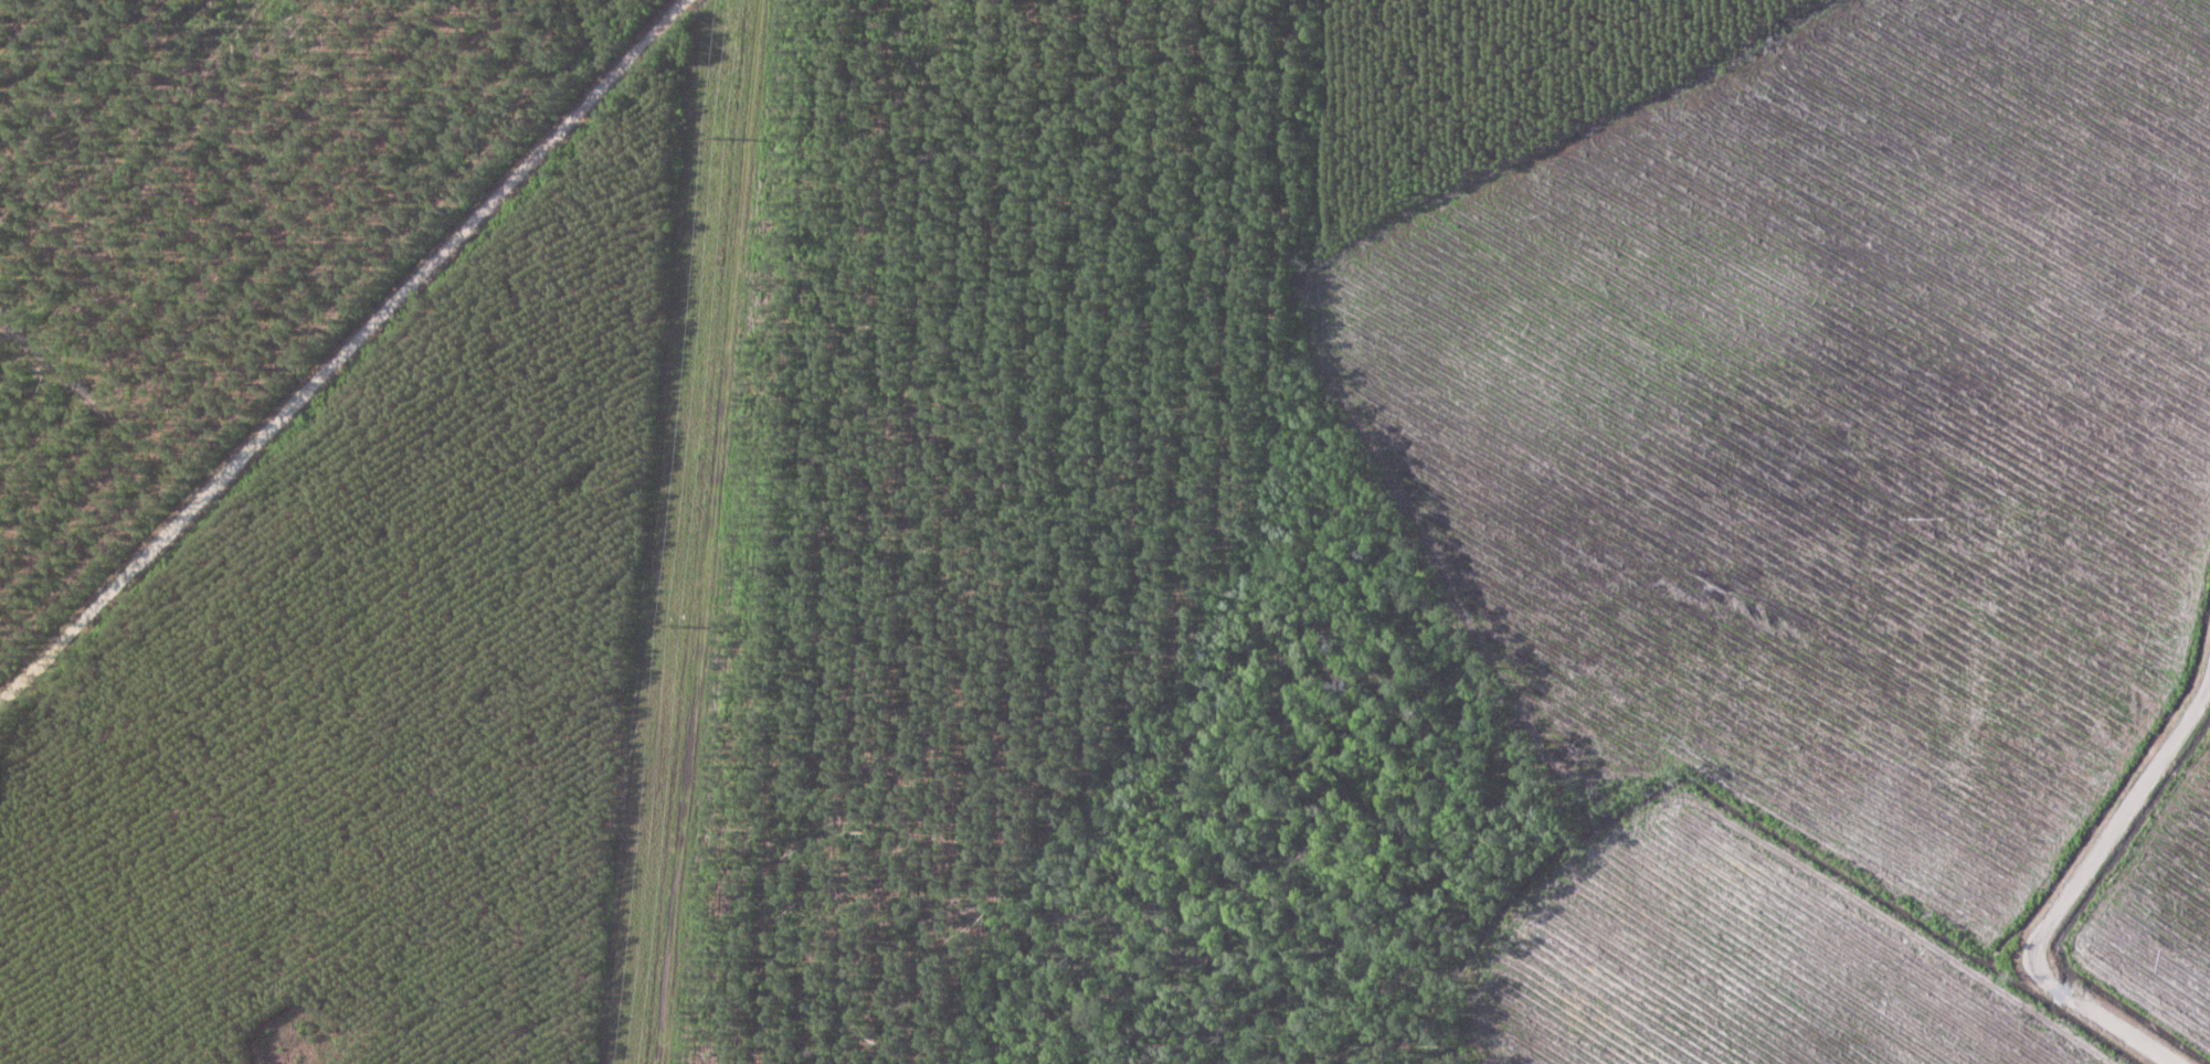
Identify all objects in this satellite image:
power tower: (728, 141)
road: (416, 259)
power tower: (680, 629)

